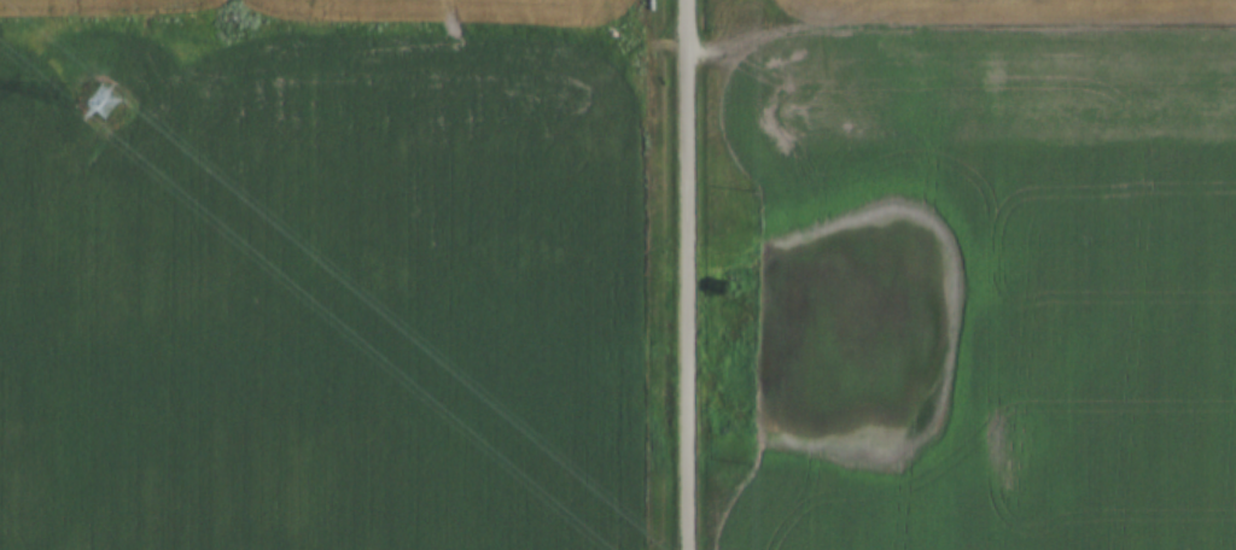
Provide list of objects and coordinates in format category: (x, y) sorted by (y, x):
road: (957, 24)
power tower: (112, 106)
road: (686, 274)

